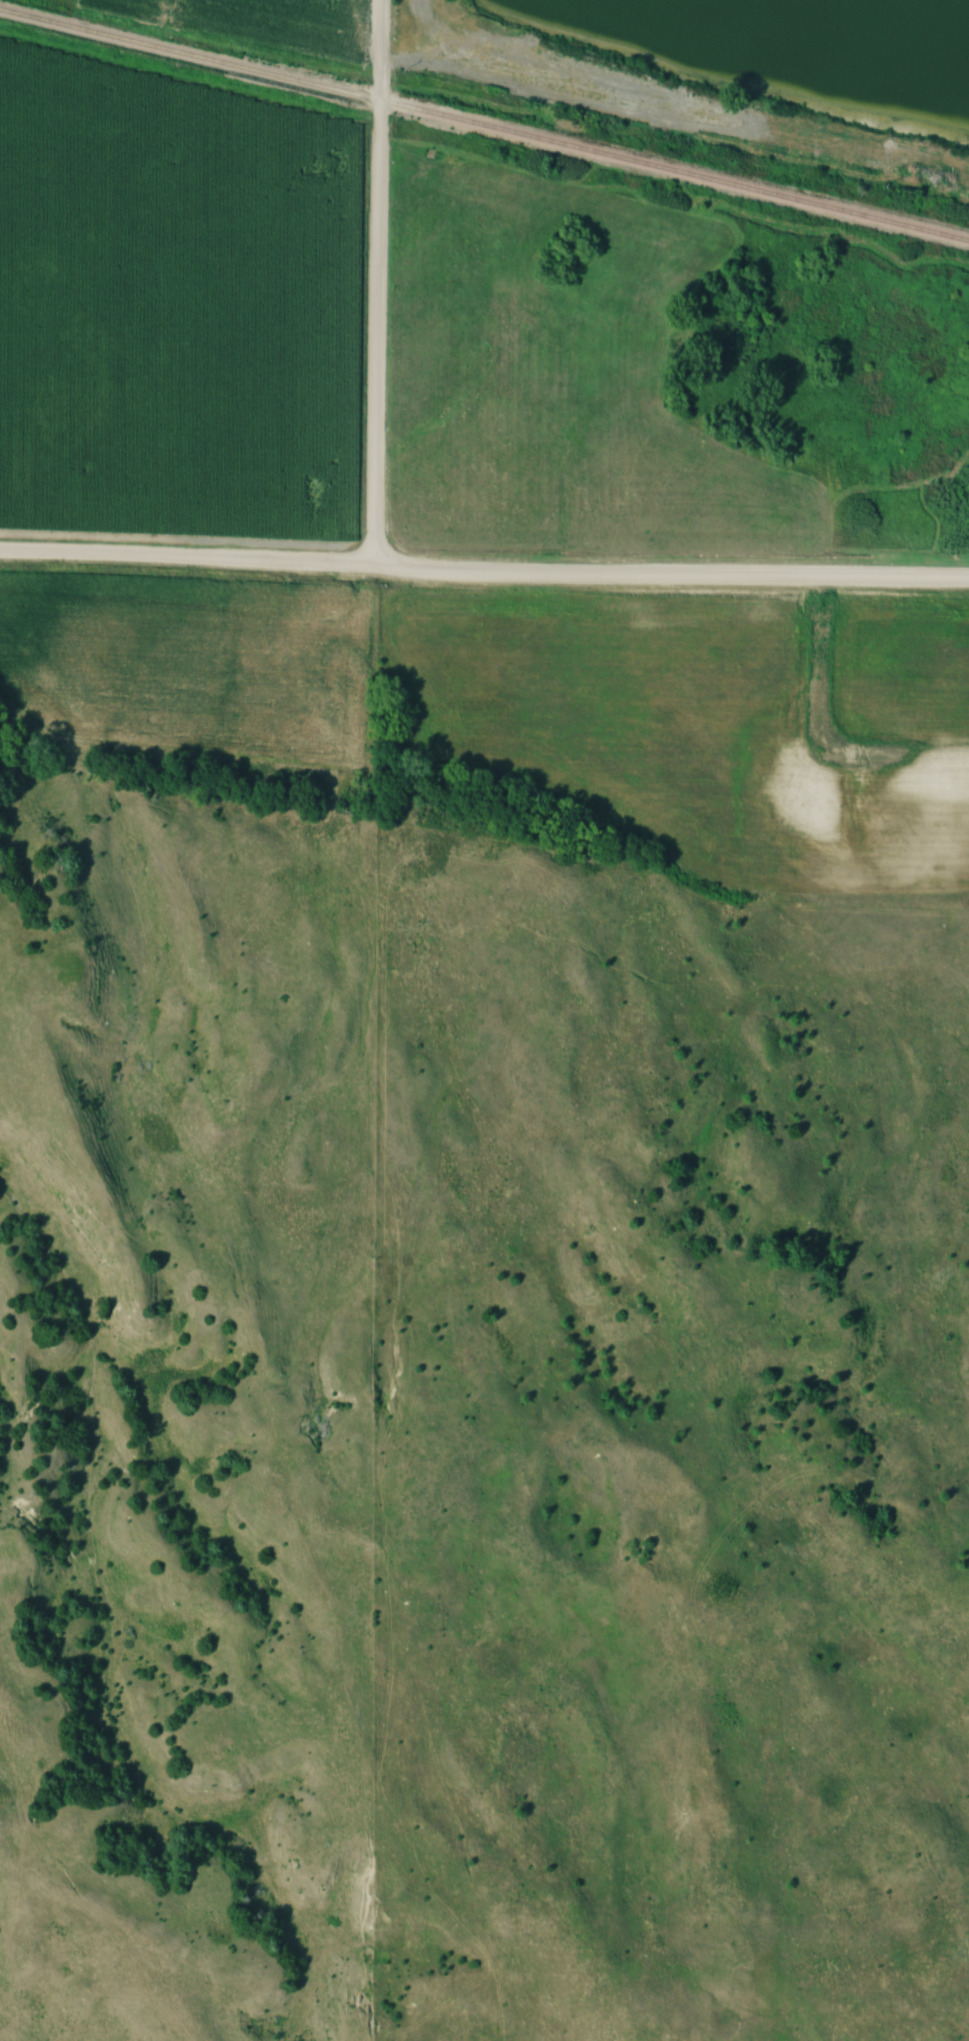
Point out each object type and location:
road: (379, 50)
railway: (484, 125)
road: (376, 333)
road: (484, 574)

